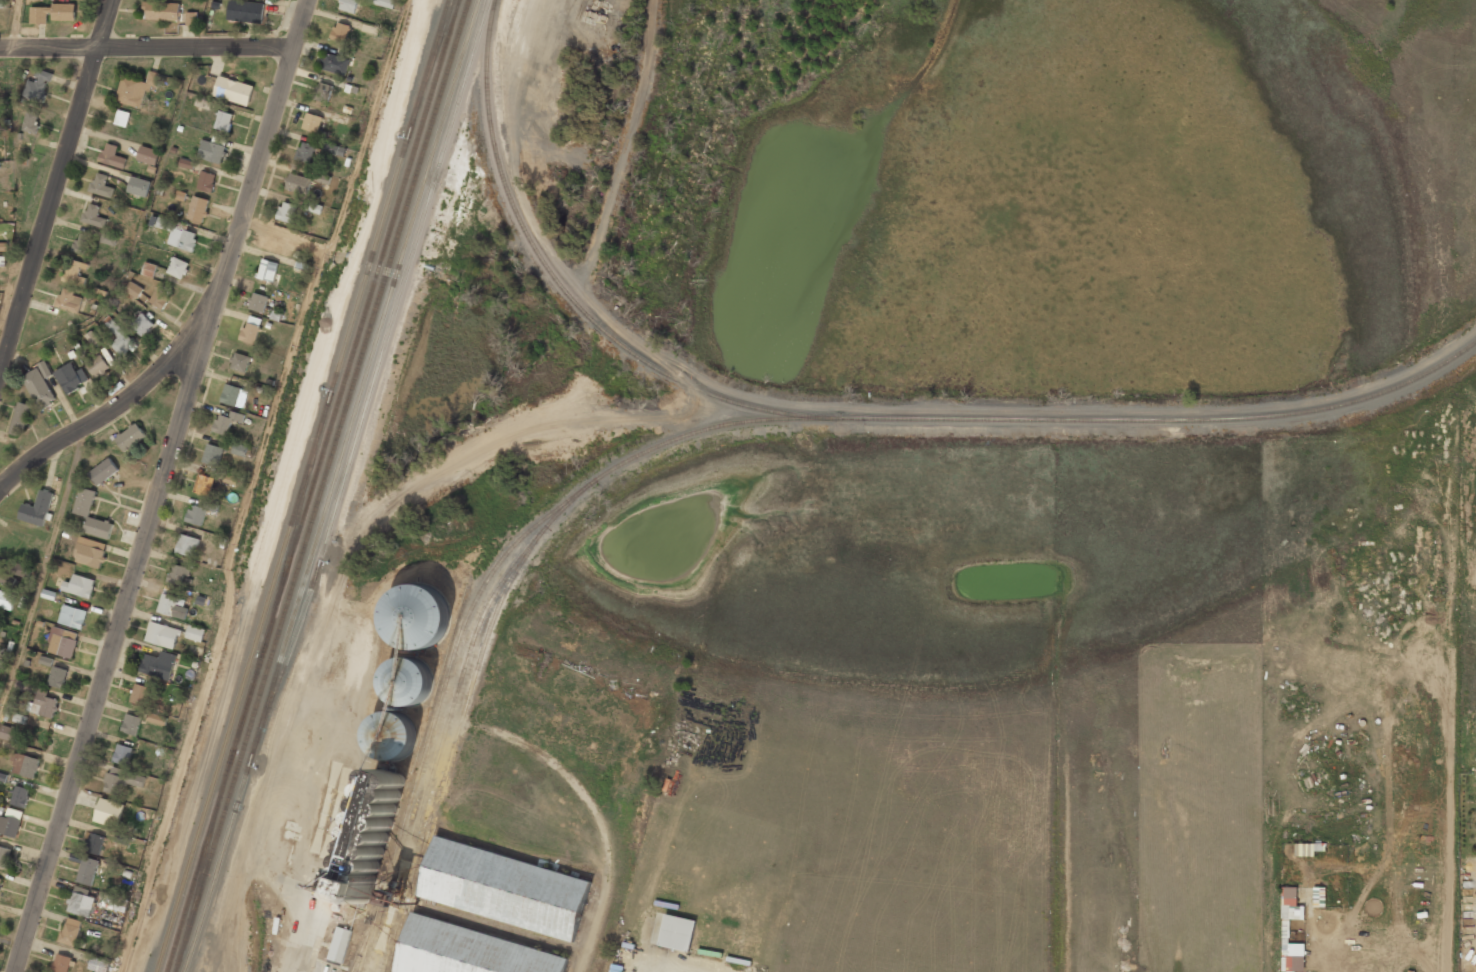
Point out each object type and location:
building: (384, 2)
building: (1, 3)
building: (348, 5)
building: (160, 10)
building: (245, 10)
building: (51, 12)
building: (191, 18)
road: (15, 24)
building: (340, 31)
road: (146, 48)
building: (335, 63)
building: (39, 83)
building: (136, 88)
building: (233, 90)
building: (323, 92)
building: (203, 103)
building: (122, 117)
building: (224, 120)
building: (31, 121)
building: (311, 122)
building: (334, 148)
building: (212, 150)
building: (305, 151)
building: (148, 154)
building: (112, 155)
building: (186, 163)
building: (322, 178)
building: (206, 180)
building: (298, 182)
road: (55, 183)
building: (101, 184)
building: (138, 185)
building: (198, 207)
building: (314, 207)
building: (285, 211)
building: (93, 215)
building: (182, 236)
building: (109, 239)
building: (80, 241)
building: (4, 246)
building: (178, 266)
building: (73, 269)
building: (149, 269)
building: (267, 269)
building: (134, 289)
railway: (569, 294)
building: (158, 297)
building: (69, 299)
building: (258, 302)
building: (142, 324)
building: (250, 328)
building: (119, 335)
building: (239, 361)
building: (99, 365)
building: (70, 376)
building: (40, 384)
building: (233, 394)
road: (109, 411)
building: (19, 417)
railway: (1171, 419)
building: (224, 421)
building: (130, 436)
railway: (502, 440)
building: (239, 449)
building: (213, 454)
building: (103, 470)
building: (231, 479)
building: (203, 484)
road: (252, 484)
road: (161, 485)
railway: (313, 485)
railway: (333, 485)
railway: (300, 486)
railway: (324, 486)
building: (37, 508)
building: (196, 513)
building: (84, 514)
building: (187, 544)
building: (90, 551)
road: (42, 566)
building: (19, 569)
building: (178, 573)
building: (6, 578)
building: (79, 584)
building: (6, 599)
building: (168, 604)
railway: (470, 612)
building: (72, 615)
building: (416, 616)
building: (0, 624)
building: (195, 633)
building: (162, 634)
building: (62, 641)
building: (46, 661)
building: (158, 664)
building: (57, 675)
building: (408, 681)
building: (141, 693)
building: (41, 700)
railway: (452, 710)
building: (157, 718)
building: (131, 723)
building: (9, 733)
building: (391, 735)
railway: (453, 748)
building: (122, 753)
building: (24, 765)
building: (121, 779)
building: (19, 796)
building: (109, 811)
building: (9, 824)
building: (122, 838)
building: (95, 843)
building: (1305, 849)
building: (4, 855)
building: (87, 870)
building: (0, 881)
building: (504, 888)
building: (81, 903)
building: (115, 904)
building: (1289, 915)
building: (70, 930)
building: (677, 933)
railway: (364, 941)
building: (338, 945)
building: (470, 951)
building: (60, 963)
building: (98, 964)
building: (1287, 971)

